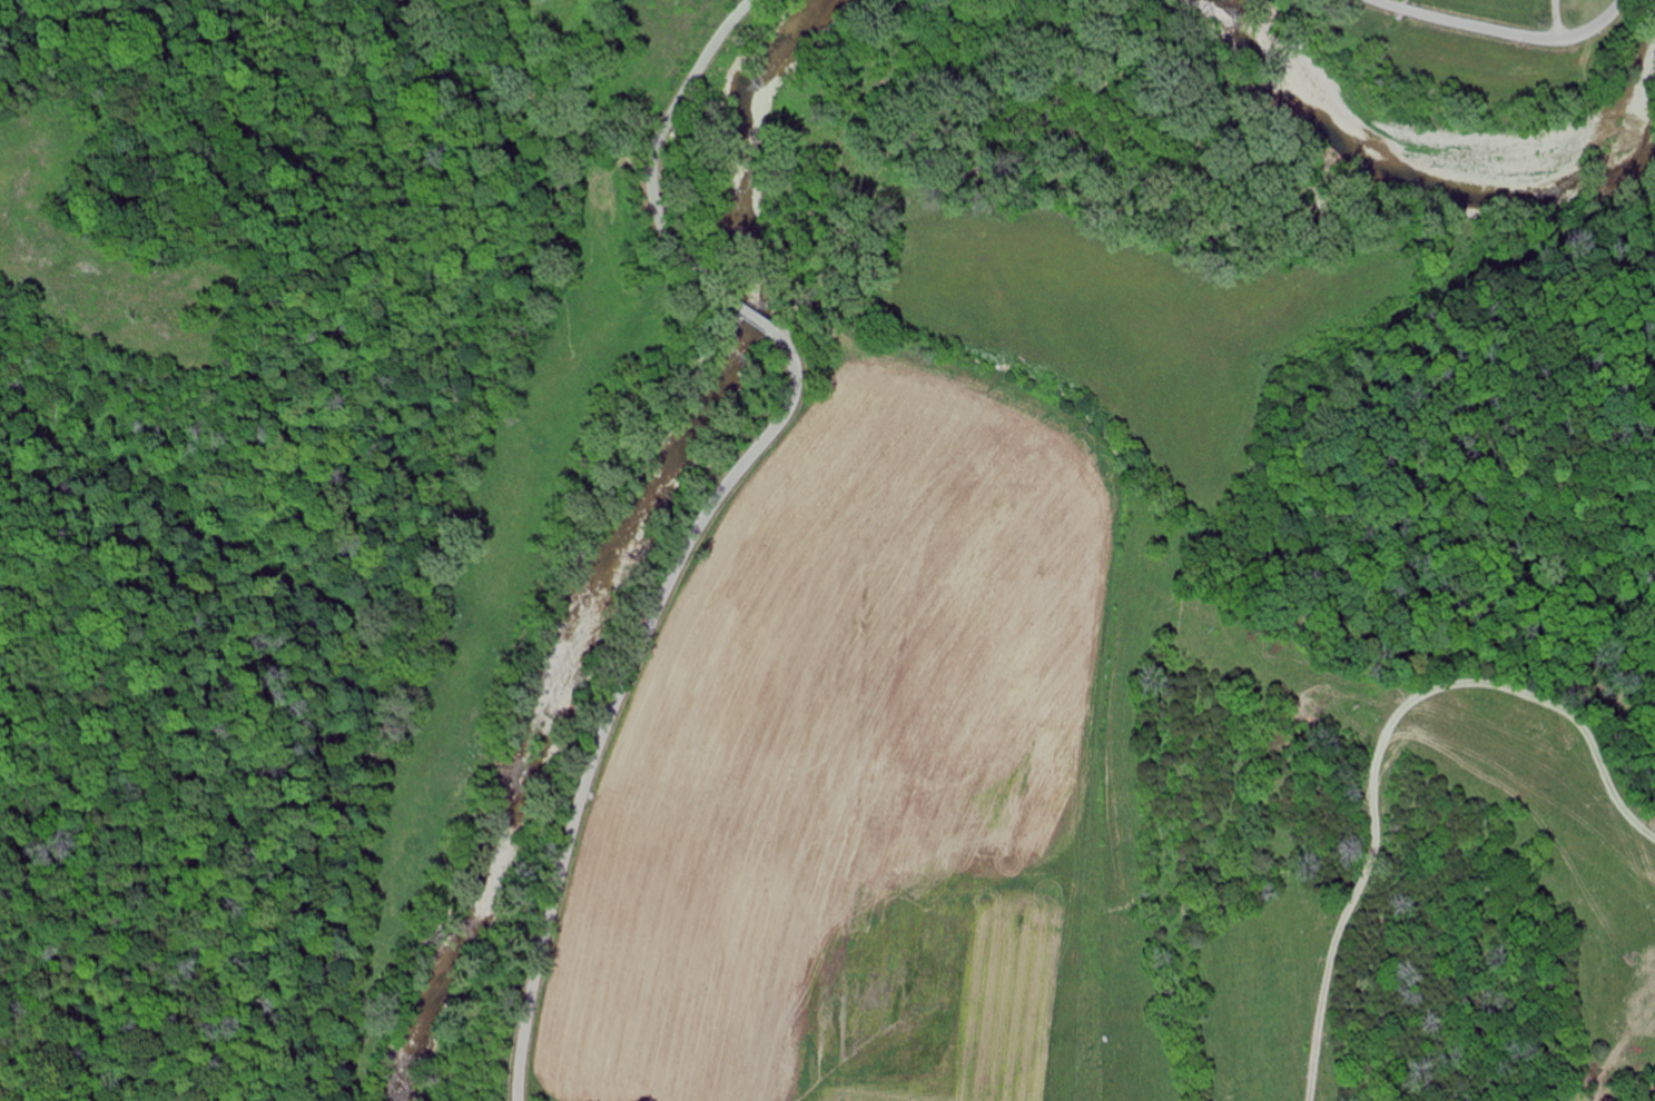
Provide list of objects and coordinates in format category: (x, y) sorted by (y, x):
road: (1550, 19)
road: (1501, 31)
road: (709, 513)

